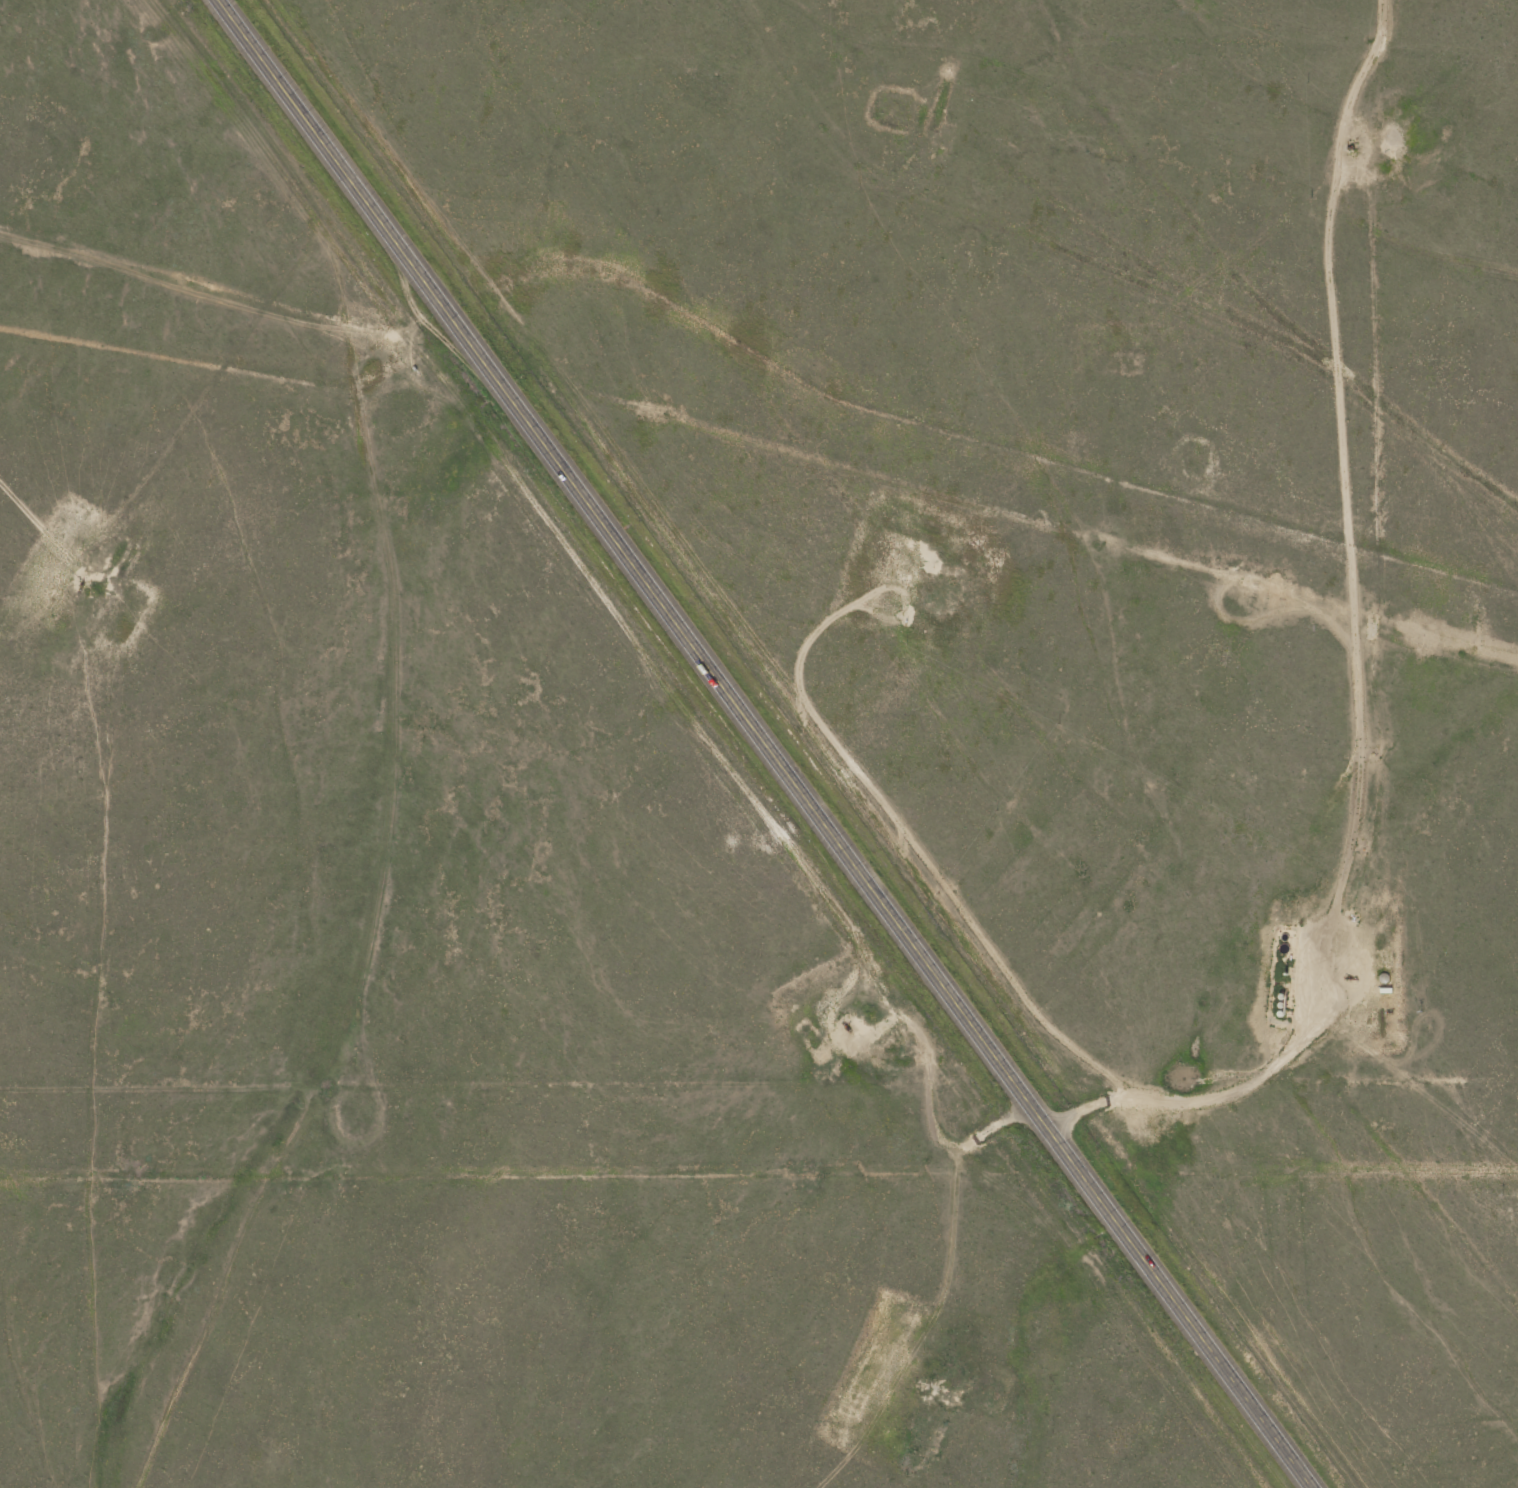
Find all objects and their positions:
road: (769, 744)

